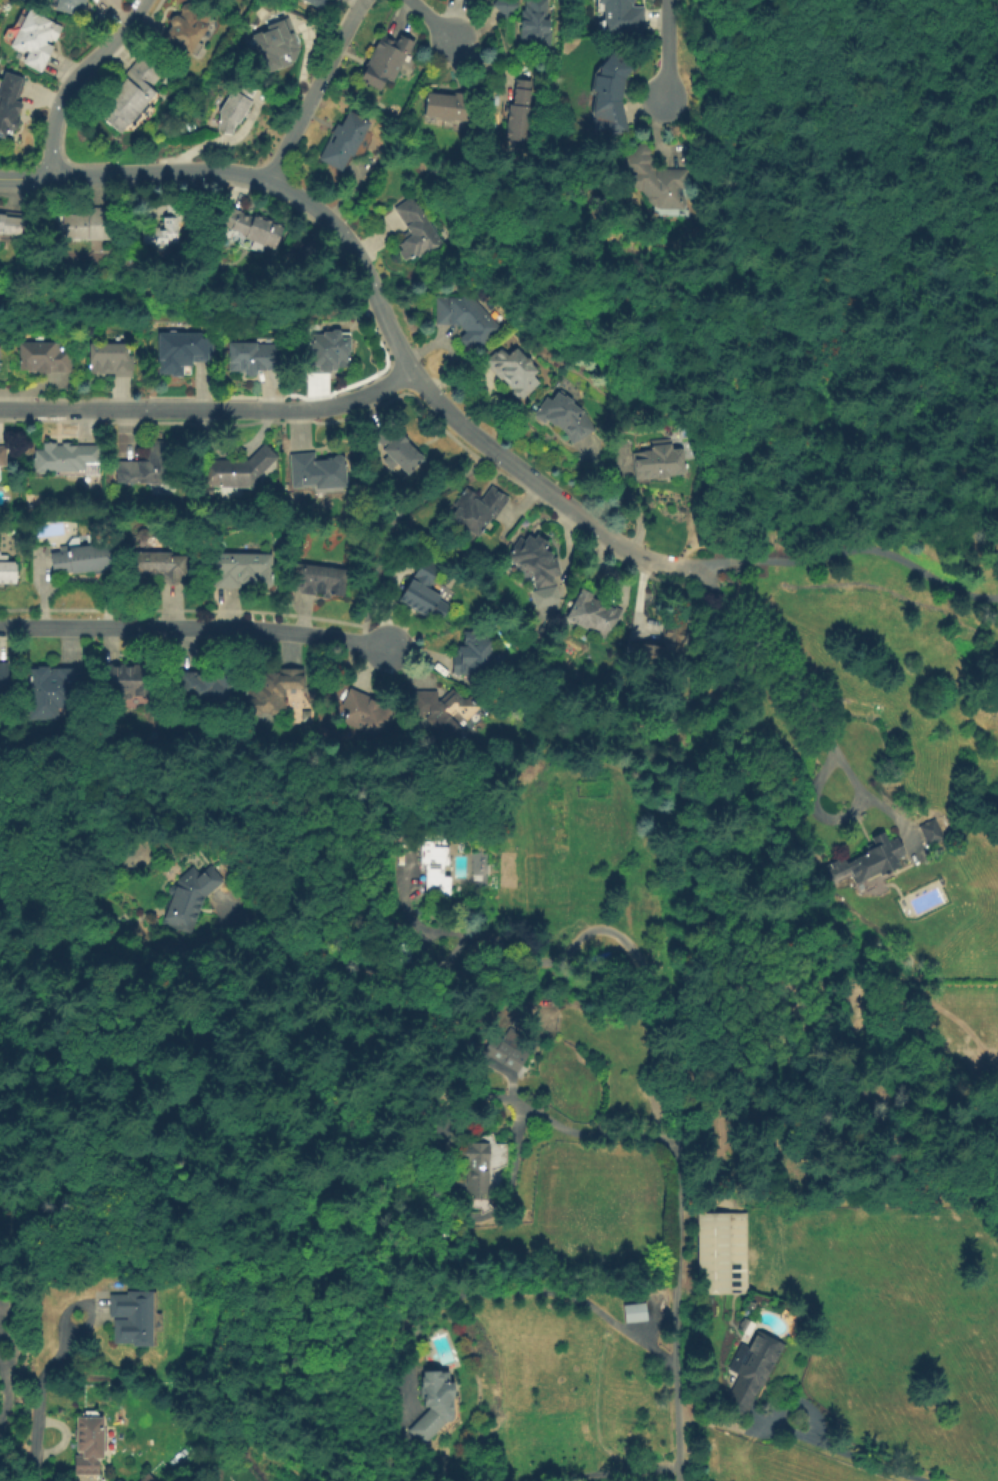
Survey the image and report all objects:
building: (316, 3)
building: (71, 6)
building: (506, 7)
building: (622, 17)
road: (428, 20)
building: (535, 23)
building: (184, 30)
building: (35, 39)
building: (276, 47)
road: (667, 49)
building: (385, 60)
road: (72, 78)
road: (315, 91)
building: (611, 93)
building: (130, 95)
building: (9, 102)
building: (236, 104)
building: (448, 106)
building: (520, 112)
building: (344, 140)
road: (930, 175)
building: (655, 179)
road: (25, 180)
road: (963, 194)
road: (898, 207)
building: (11, 223)
building: (87, 225)
building: (251, 226)
building: (166, 227)
building: (416, 231)
park: (843, 260)
building: (466, 318)
road: (393, 336)
building: (182, 351)
building: (327, 352)
building: (254, 357)
building: (0, 358)
building: (45, 358)
building: (111, 359)
building: (514, 371)
road: (210, 411)
building: (565, 417)
building: (397, 450)
building: (3, 456)
building: (65, 458)
building: (659, 462)
building: (147, 467)
building: (235, 470)
building: (318, 471)
road: (816, 477)
building: (478, 508)
road: (386, 526)
building: (143, 534)
road: (865, 548)
building: (81, 558)
building: (538, 565)
building: (156, 567)
building: (7, 569)
building: (244, 570)
building: (320, 580)
building: (425, 592)
building: (594, 614)
road: (193, 630)
building: (663, 651)
building: (472, 656)
building: (126, 681)
building: (4, 683)
building: (204, 687)
building: (55, 690)
building: (272, 691)
building: (313, 694)
building: (443, 712)
building: (367, 715)
road: (817, 725)
building: (932, 833)
building: (868, 860)
building: (433, 868)
building: (189, 898)
road: (548, 950)
building: (511, 1049)
road: (593, 1133)
building: (478, 1169)
building: (722, 1254)
road: (468, 1294)
building: (635, 1313)
building: (131, 1318)
road: (679, 1331)
building: (751, 1371)
road: (1, 1385)
road: (39, 1405)
building: (434, 1405)
building: (87, 1447)
road: (835, 1453)
road: (616, 1470)
building: (146, 1478)

